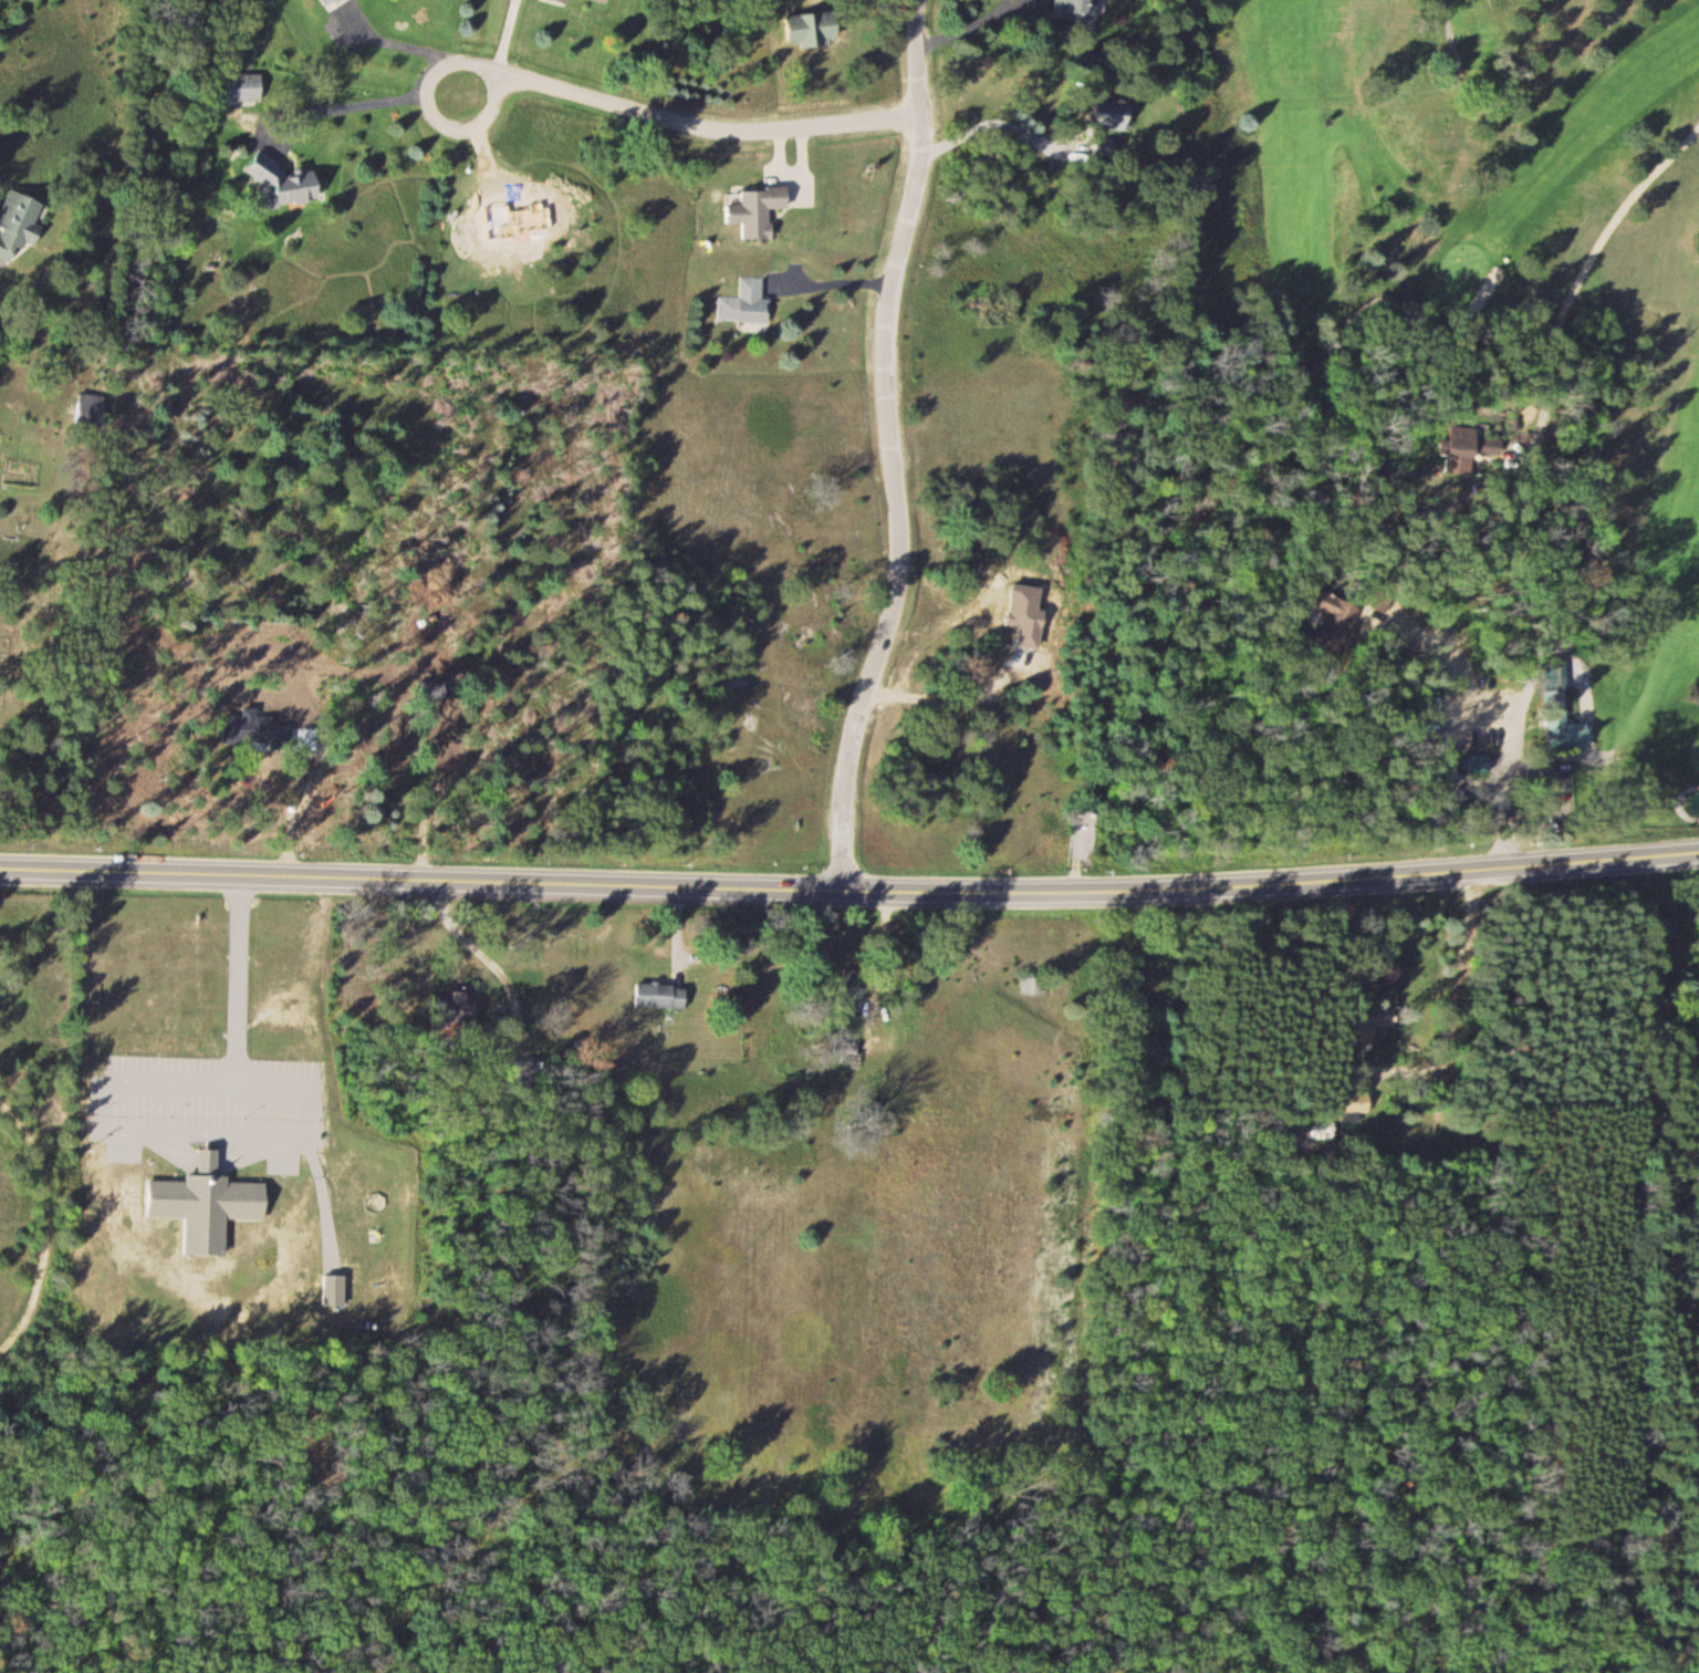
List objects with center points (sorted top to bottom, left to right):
building: (607, 0)
building: (327, 1)
building: (561, 1)
building: (1081, 12)
building: (814, 28)
building: (247, 87)
building: (1117, 115)
road: (688, 122)
building: (286, 183)
building: (759, 210)
building: (21, 224)
building: (746, 302)
building: (92, 409)
park: (1418, 423)
road: (889, 446)
building: (1345, 611)
road: (1519, 688)
building: (1570, 731)
building: (1482, 763)
road: (849, 890)
building: (1033, 984)
building: (857, 989)
building: (661, 995)
building: (458, 1005)
building: (1324, 1129)

